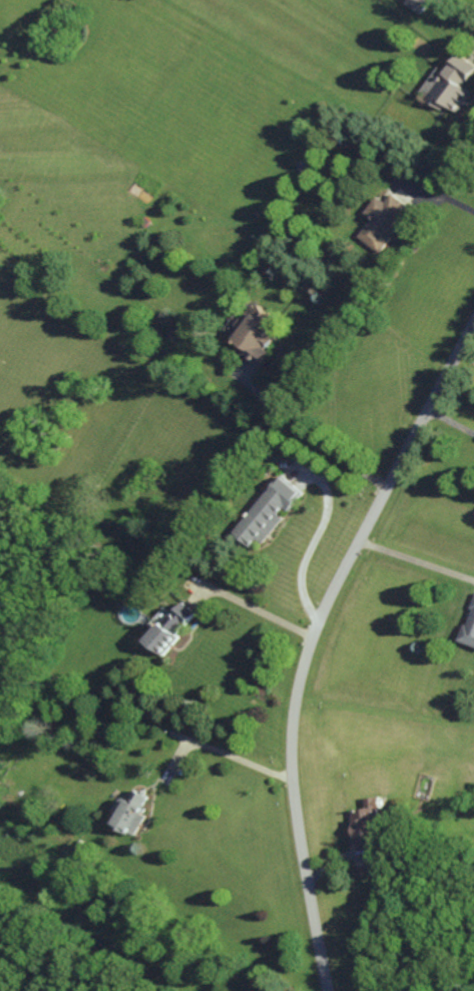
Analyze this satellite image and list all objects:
building: (417, 4)
road: (472, 49)
building: (450, 85)
road: (442, 195)
building: (381, 221)
building: (258, 335)
road: (451, 420)
road: (309, 434)
building: (268, 512)
road: (313, 539)
road: (417, 559)
road: (251, 608)
building: (171, 627)
building: (469, 630)
road: (312, 640)
road: (225, 753)
building: (133, 814)

